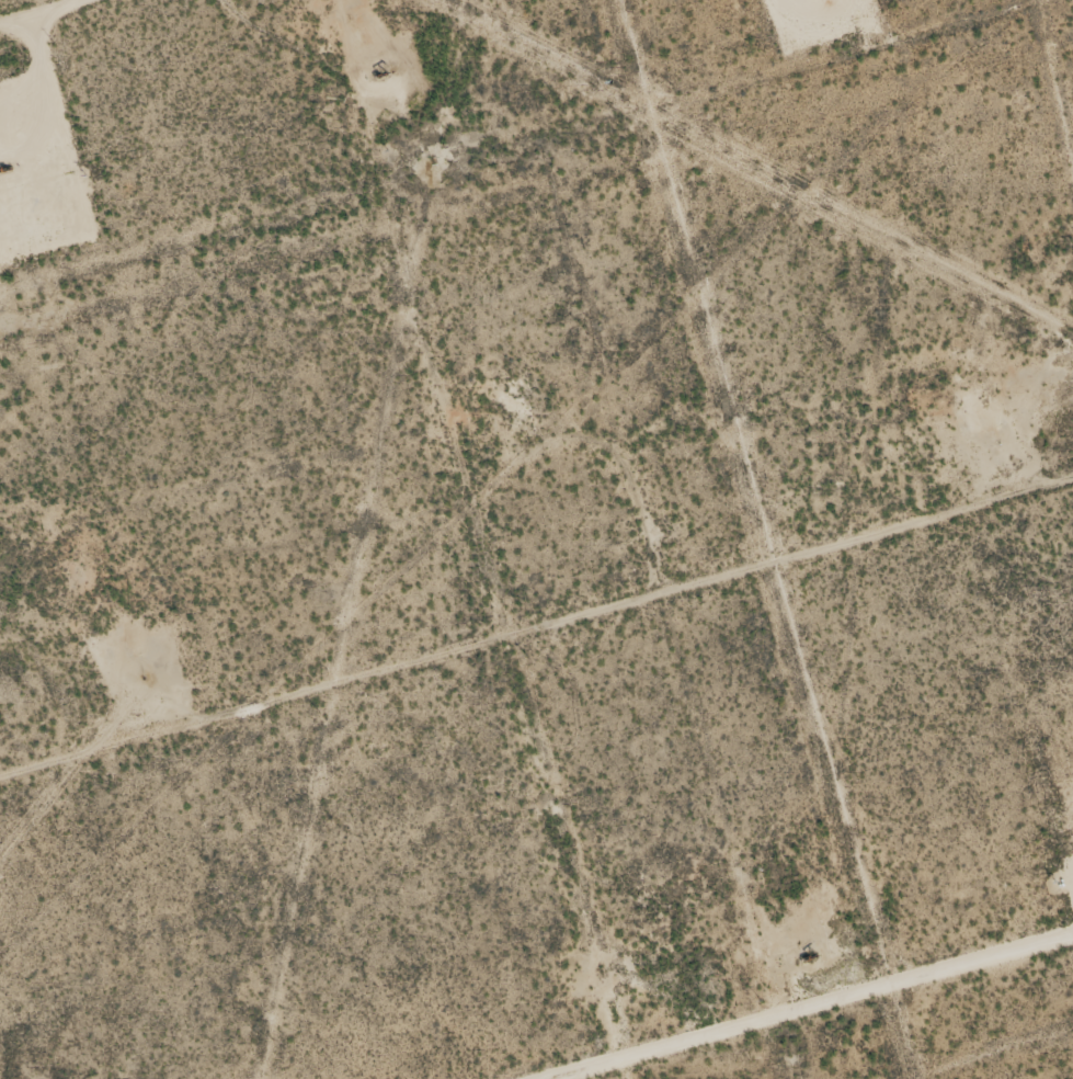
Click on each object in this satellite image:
road: (838, 1014)

